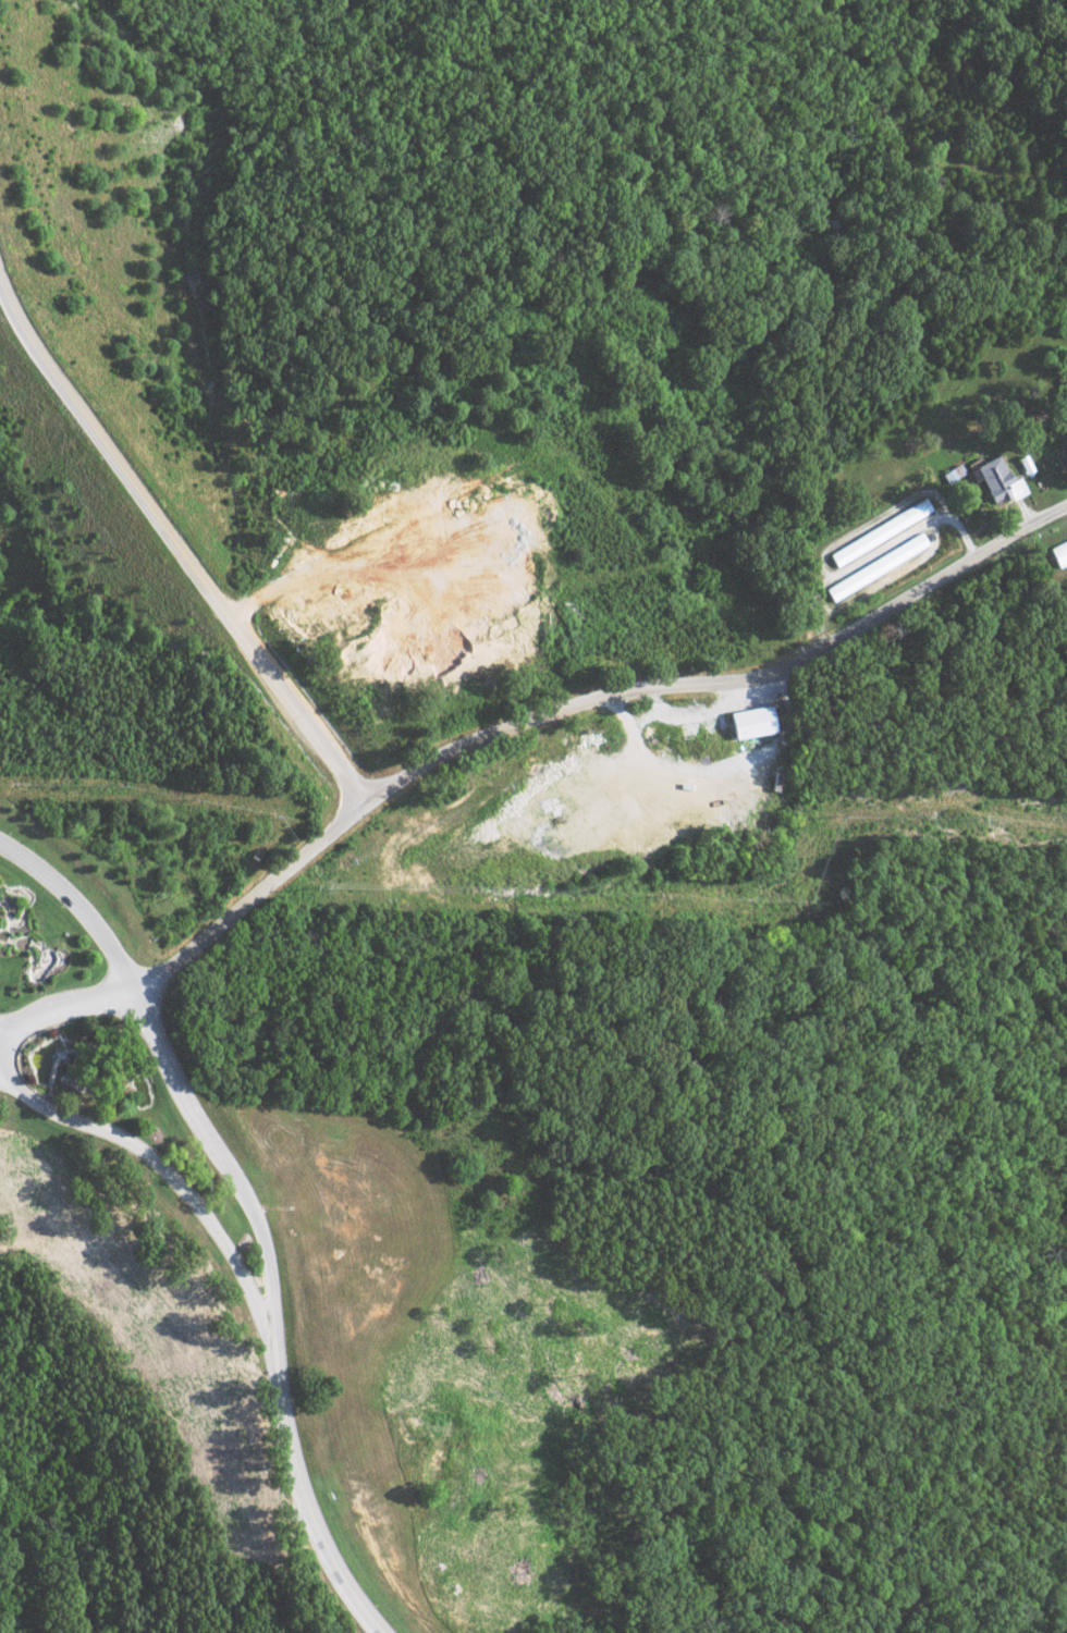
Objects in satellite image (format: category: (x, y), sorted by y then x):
building: (1023, 465)
building: (997, 482)
building: (879, 532)
building: (1058, 553)
building: (875, 567)
road: (182, 573)
building: (750, 721)
road: (511, 726)
road: (177, 1092)
road: (181, 1186)
road: (311, 1518)
road: (296, 1566)

